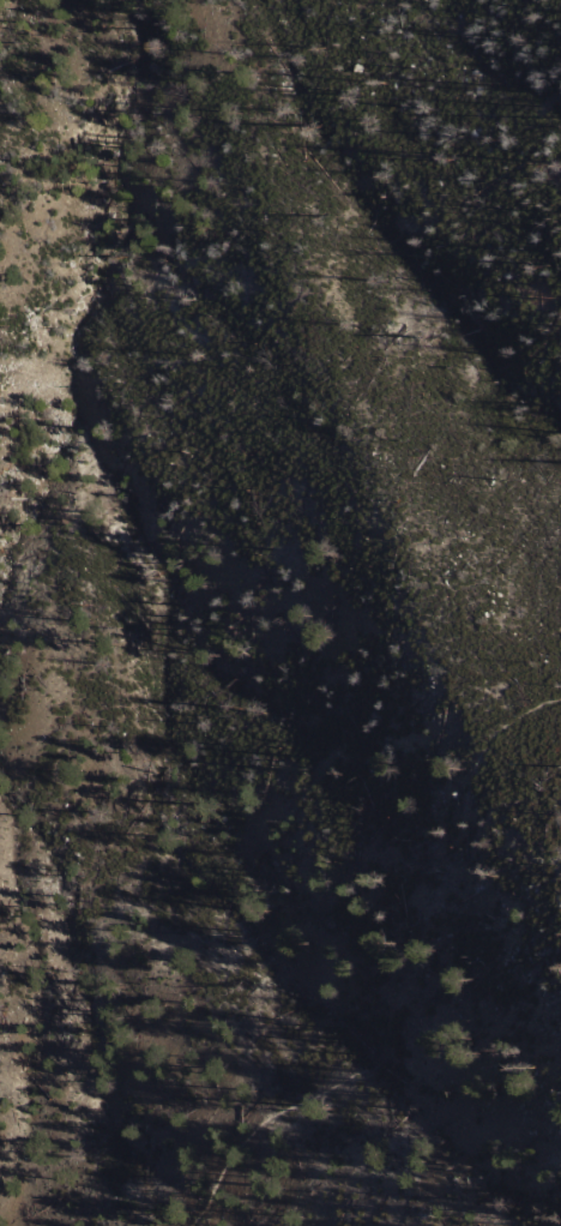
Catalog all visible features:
road: (404, 981)

